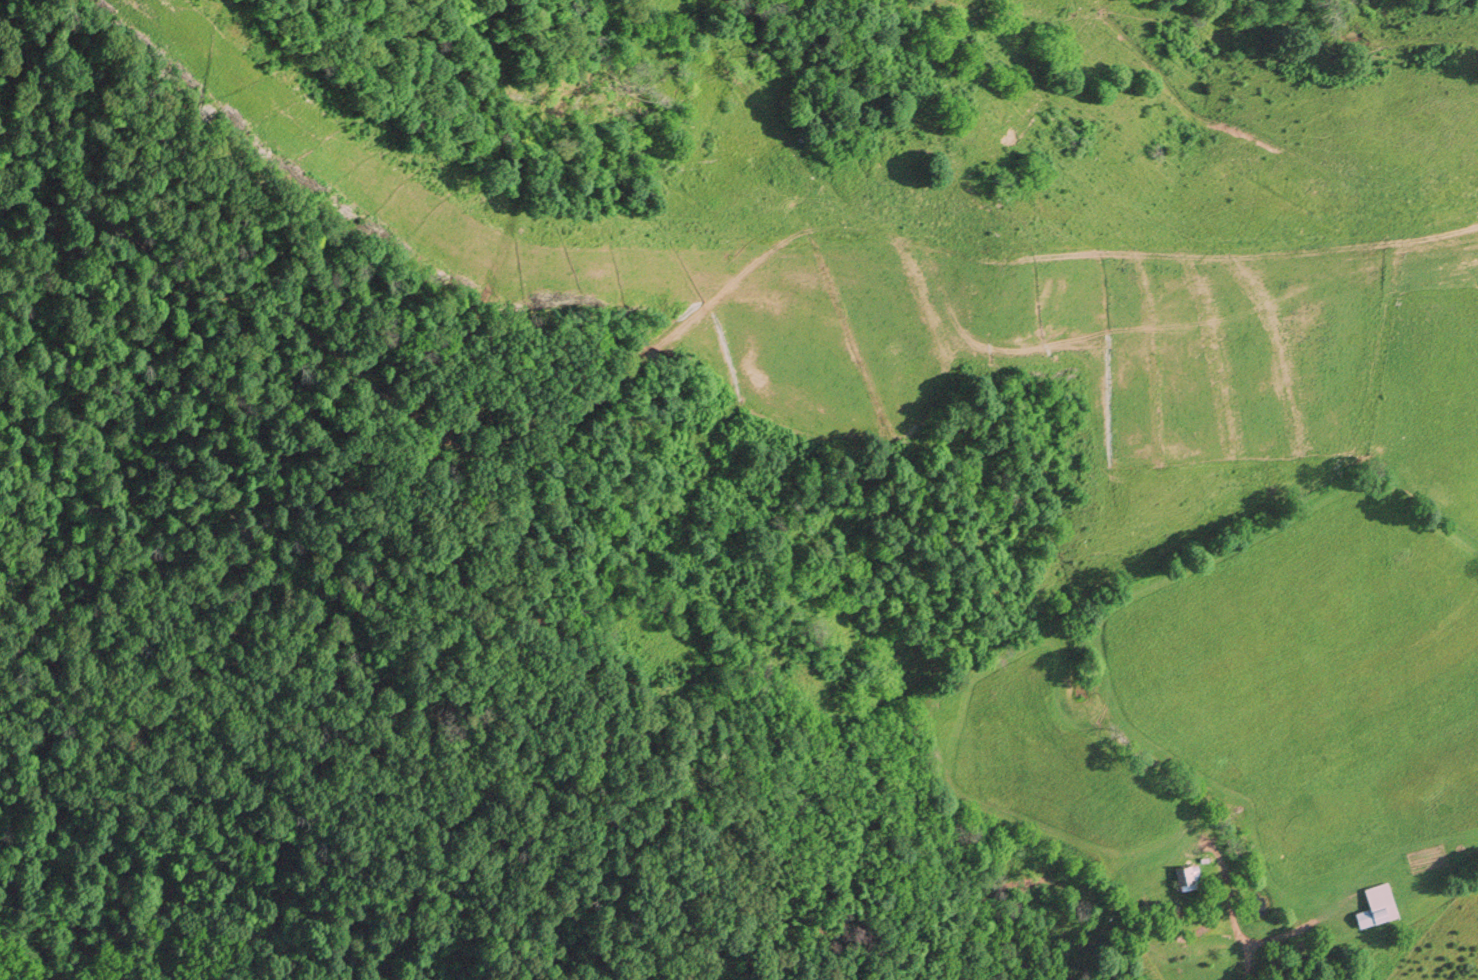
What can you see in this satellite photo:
building: (1185, 879)
building: (1375, 907)

